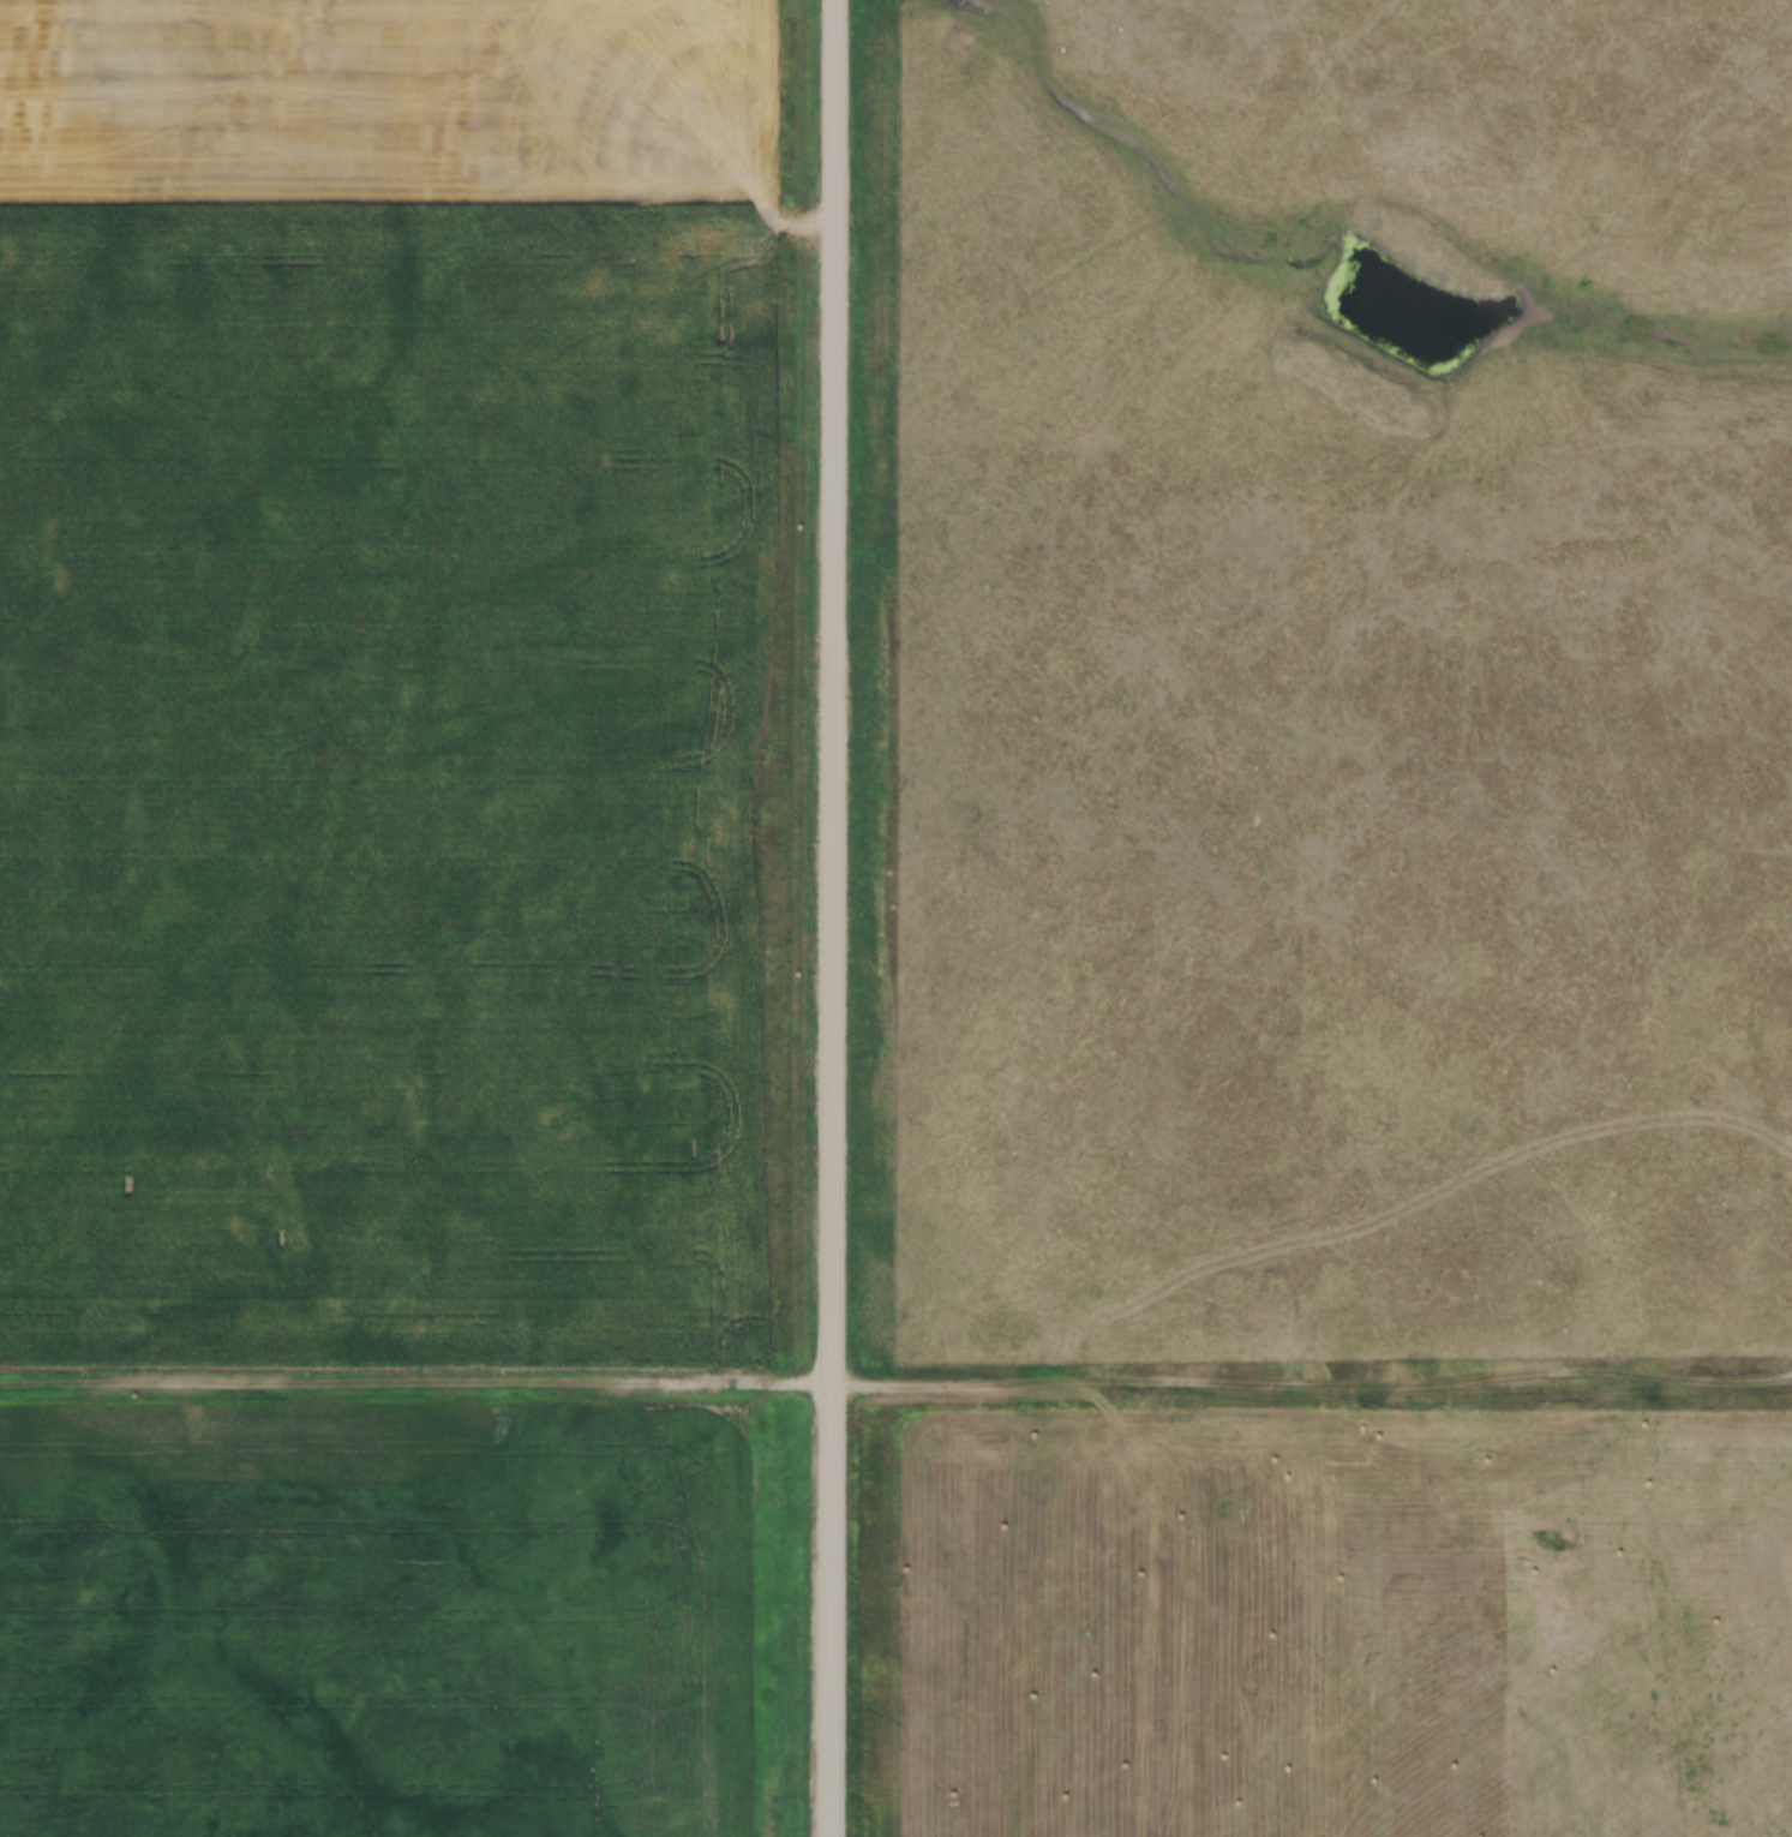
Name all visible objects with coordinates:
road: (838, 917)
road: (897, 1387)

